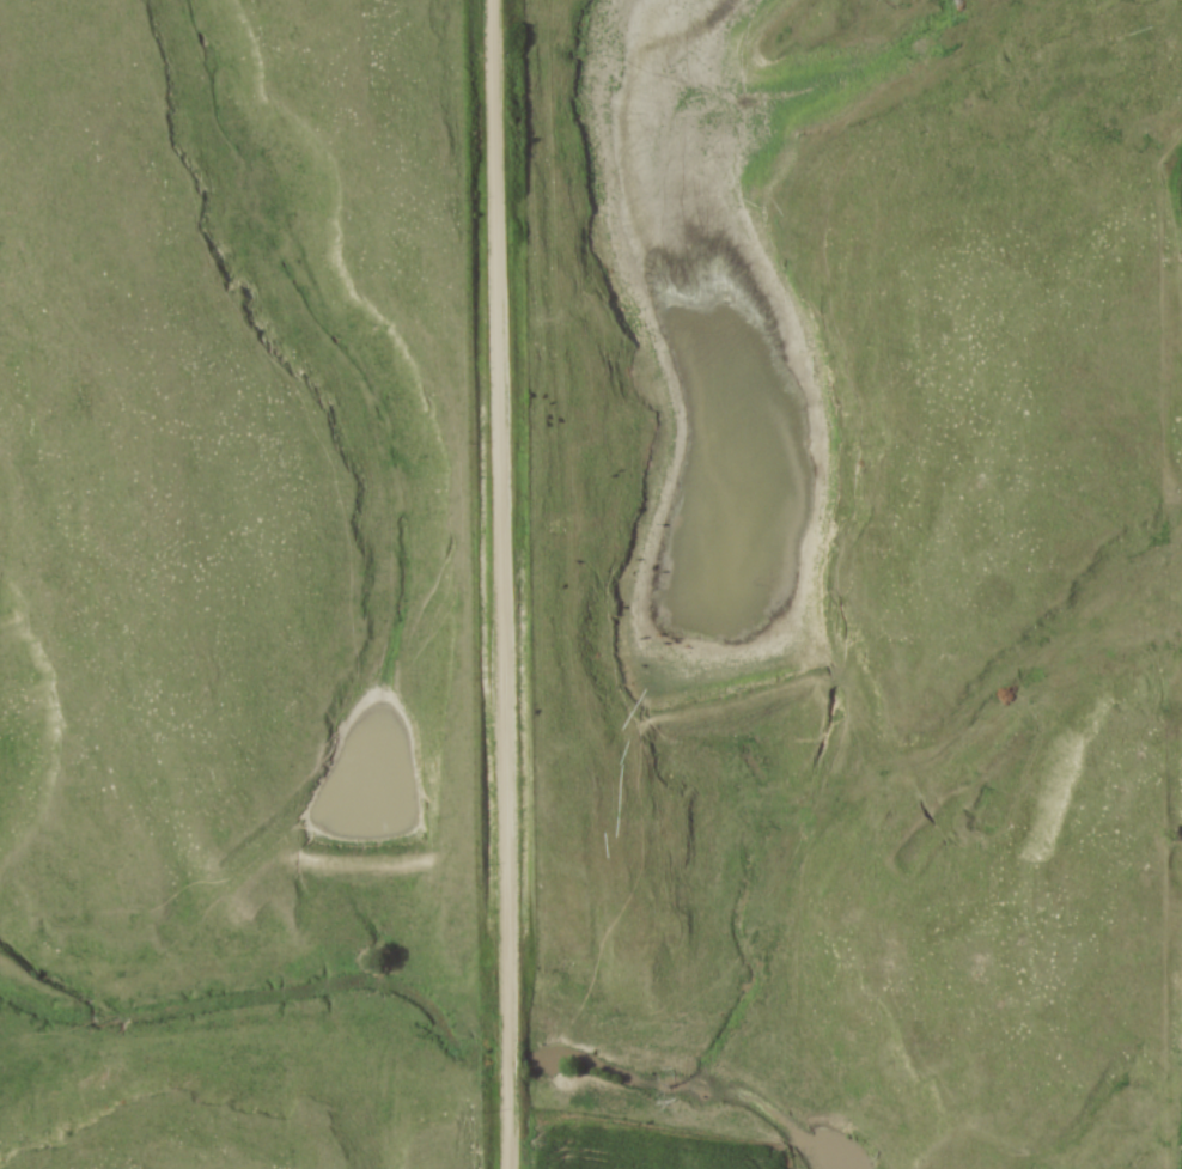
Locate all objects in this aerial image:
road: (506, 584)

